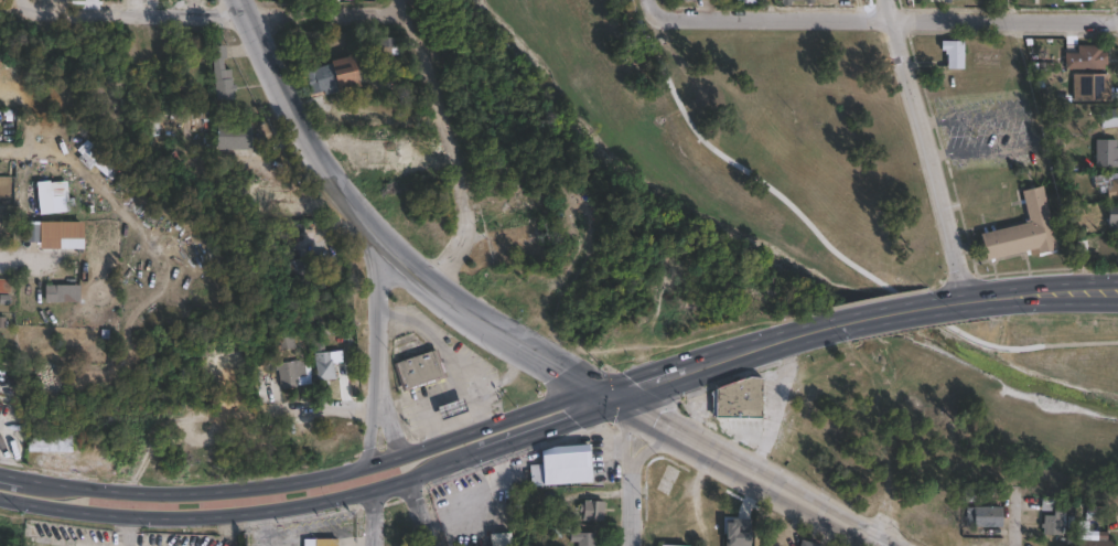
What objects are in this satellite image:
building: (689, 0)
building: (749, 1)
building: (788, 1)
building: (810, 1)
road: (657, 2)
road: (23, 3)
road: (219, 11)
road: (889, 13)
building: (388, 39)
building: (955, 53)
building: (1086, 58)
building: (219, 75)
building: (331, 76)
building: (1089, 86)
road: (295, 116)
building: (1109, 117)
building: (233, 137)
road: (452, 142)
building: (82, 147)
road: (928, 147)
building: (1106, 152)
road: (734, 165)
building: (1107, 184)
building: (43, 197)
building: (61, 203)
park: (782, 208)
building: (1110, 214)
building: (1024, 231)
building: (32, 232)
building: (299, 271)
road: (427, 276)
building: (3, 290)
building: (62, 293)
road: (1021, 293)
road: (920, 309)
road: (886, 310)
road: (376, 314)
building: (283, 343)
road: (449, 349)
road: (1031, 349)
road: (727, 352)
road: (548, 358)
building: (325, 365)
building: (417, 368)
building: (287, 375)
traffic signals: (606, 394)
building: (740, 399)
building: (449, 406)
gas station: (449, 406)
road: (284, 411)
road: (645, 414)
road: (556, 422)
road: (386, 429)
road: (370, 433)
building: (47, 443)
road: (709, 448)
building: (563, 464)
road: (307, 474)
road: (628, 479)
road: (793, 493)
road: (255, 508)
road: (420, 508)
building: (592, 511)
road: (383, 512)
building: (989, 516)
building: (1052, 517)
road: (1017, 521)
road: (870, 535)
building: (582, 538)
building: (499, 539)
building: (1099, 540)
building: (325, 543)
building: (809, 544)
building: (979, 544)
building: (671, 545)

